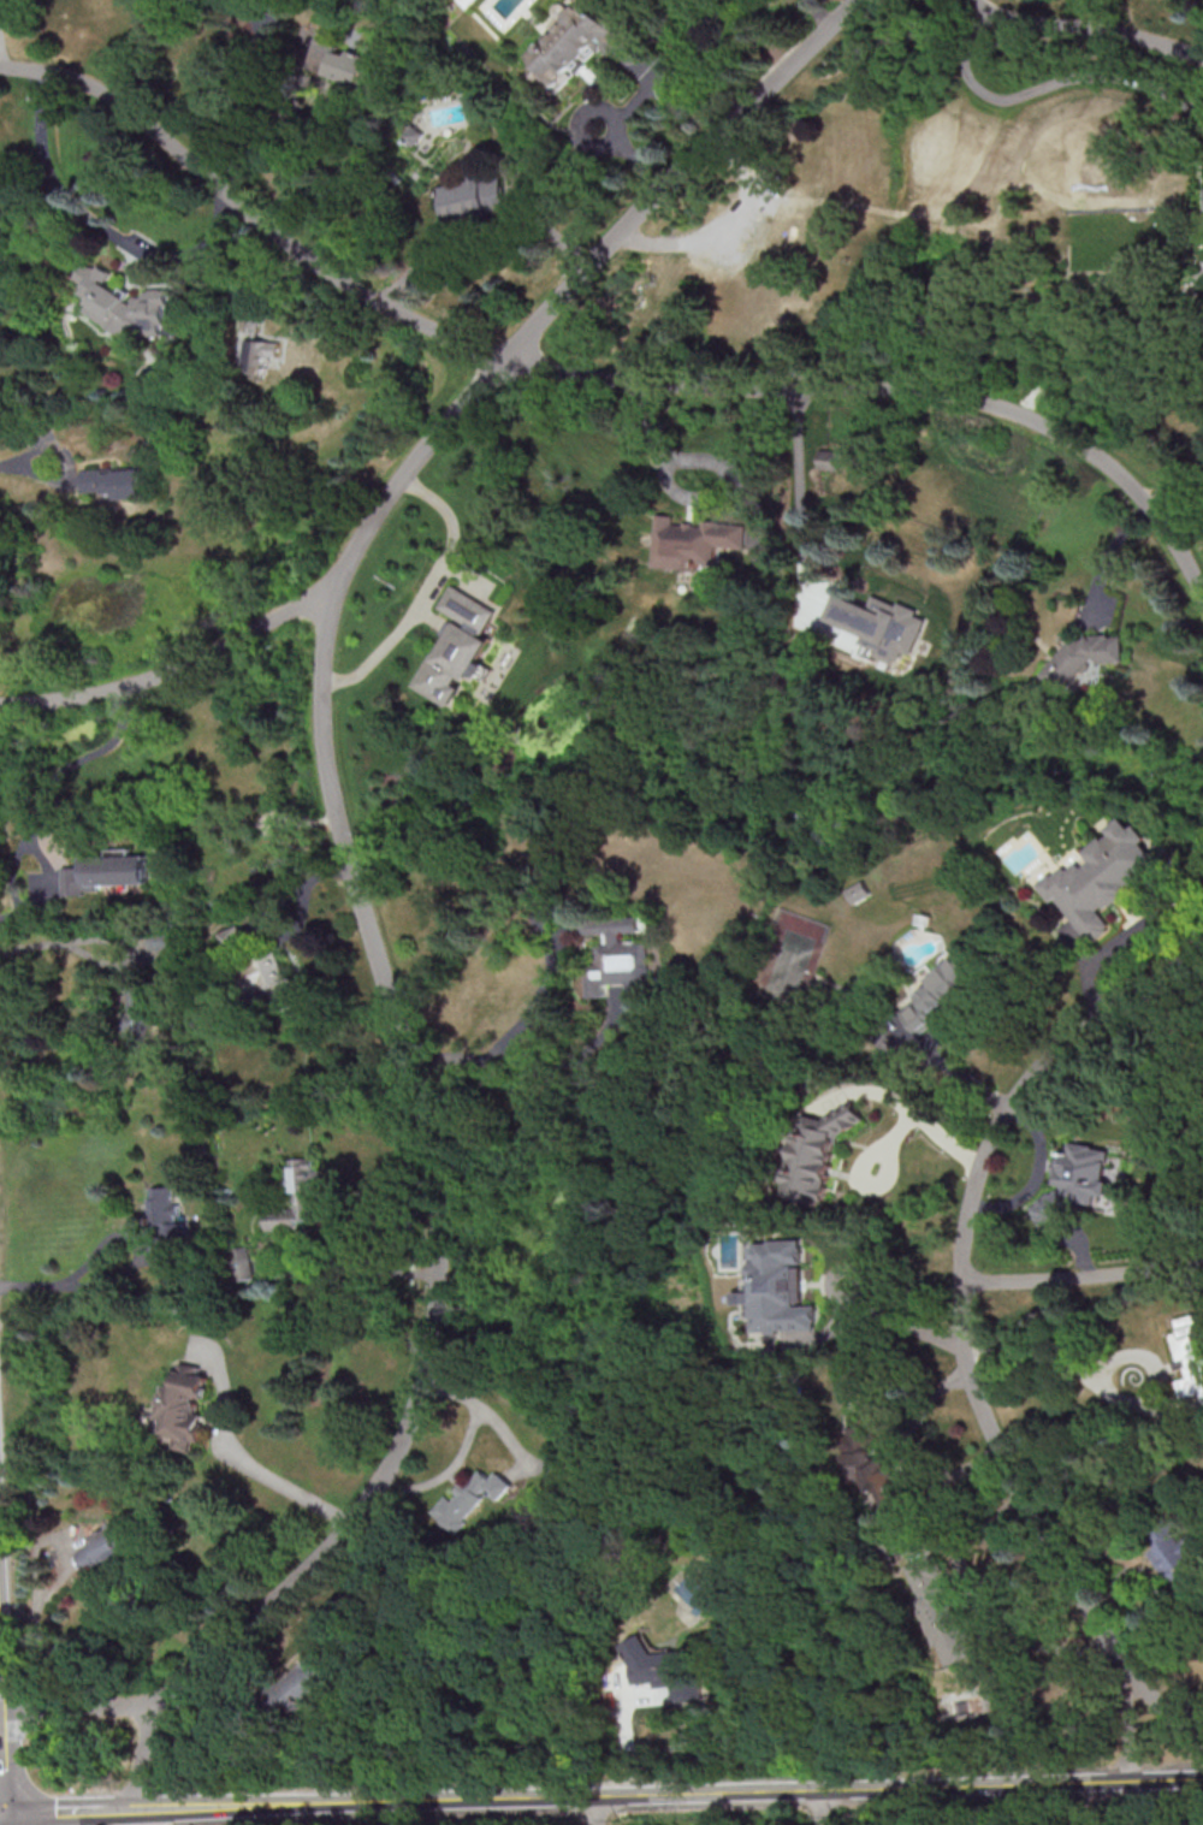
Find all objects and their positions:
road: (1088, 30)
building: (577, 40)
road: (4, 48)
building: (350, 70)
road: (1043, 84)
road: (241, 85)
road: (633, 106)
building: (416, 137)
road: (277, 155)
road: (634, 156)
building: (474, 196)
road: (97, 219)
road: (481, 229)
building: (128, 303)
building: (261, 345)
road: (597, 375)
building: (826, 458)
building: (113, 482)
road: (802, 487)
road: (692, 500)
building: (695, 544)
road: (434, 593)
building: (885, 623)
building: (461, 648)
building: (1090, 657)
road: (174, 663)
road: (46, 792)
road: (336, 807)
building: (107, 872)
building: (1101, 878)
building: (855, 891)
road: (59, 942)
building: (622, 953)
building: (263, 968)
building: (944, 990)
road: (535, 997)
building: (140, 1015)
road: (925, 1119)
building: (817, 1153)
road: (1038, 1174)
building: (1078, 1180)
building: (300, 1197)
building: (168, 1226)
building: (239, 1263)
road: (358, 1270)
road: (1081, 1273)
road: (58, 1286)
building: (782, 1287)
road: (960, 1288)
road: (901, 1322)
road: (1128, 1352)
road: (1037, 1355)
building: (1190, 1356)
building: (190, 1404)
road: (466, 1444)
building: (870, 1457)
road: (286, 1486)
building: (468, 1499)
building: (114, 1546)
building: (1177, 1557)
building: (883, 1558)
building: (941, 1611)
road: (35, 1639)
building: (668, 1669)
building: (298, 1689)
road: (81, 1707)
road: (1169, 1725)
road: (1126, 1735)
road: (146, 1754)
road: (0, 1785)
road: (672, 1795)
road: (1092, 1805)
road: (71, 1808)
road: (819, 1808)
road: (597, 1811)
road: (0, 1812)
traffic signals: (1, 1812)
road: (142, 1815)
road: (1, 1818)

